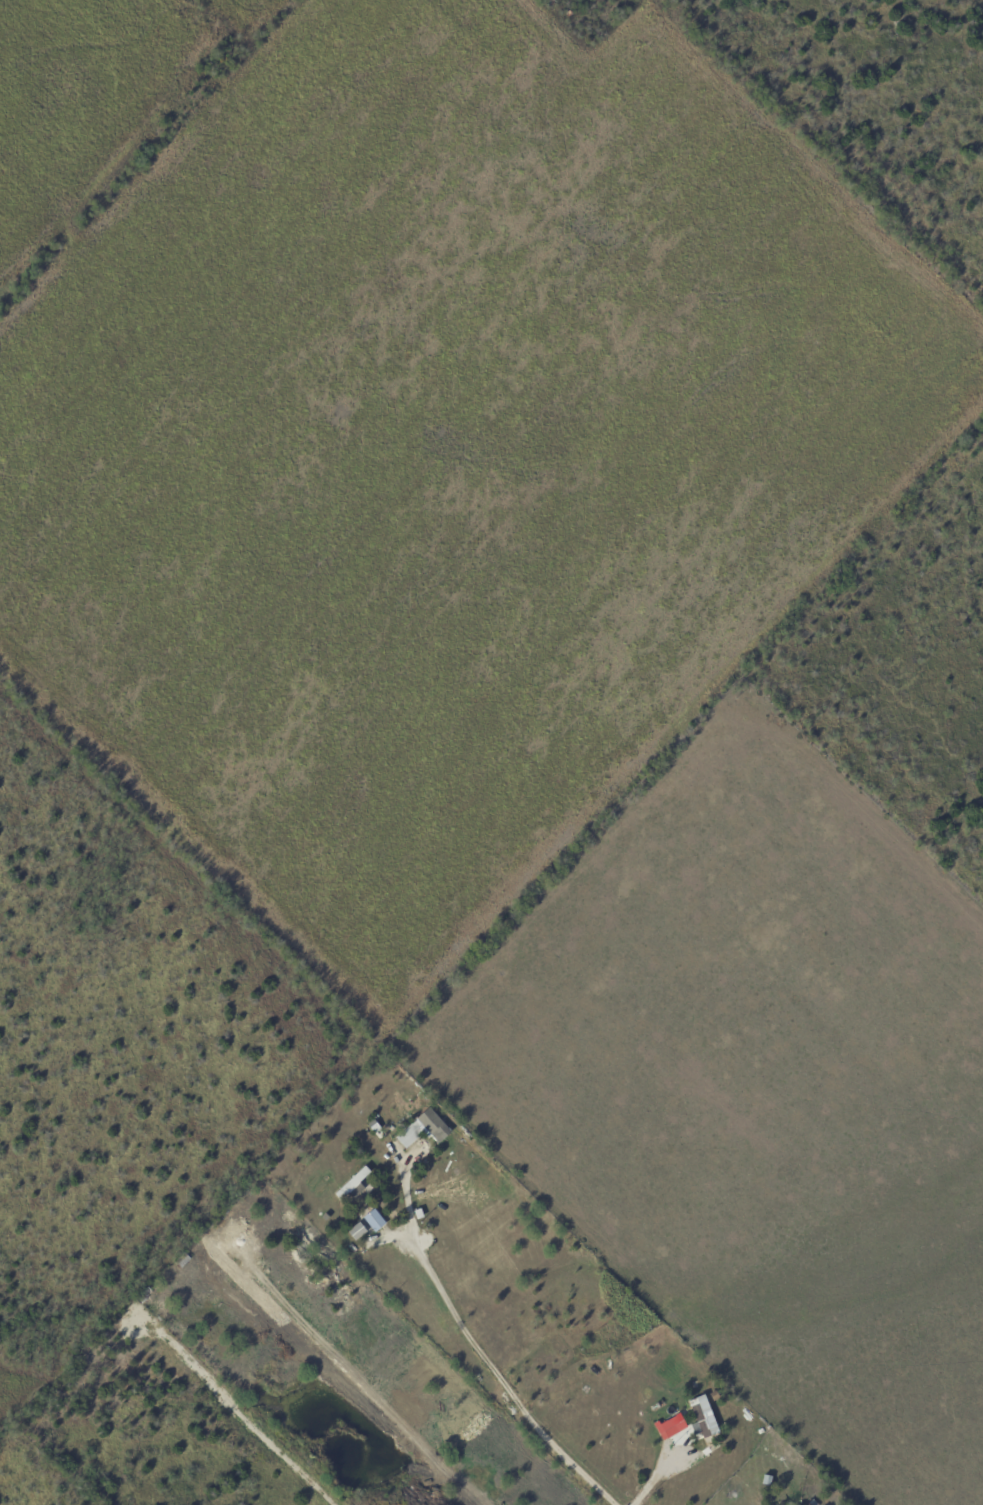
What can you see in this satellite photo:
building: (433, 1125)
building: (477, 1150)
building: (353, 1185)
building: (418, 1214)
building: (374, 1220)
building: (359, 1231)
building: (182, 1261)
building: (144, 1295)
road: (480, 1352)
building: (714, 1395)
road: (246, 1409)
building: (699, 1420)
building: (671, 1427)
building: (782, 1477)
building: (767, 1481)
building: (793, 1495)

